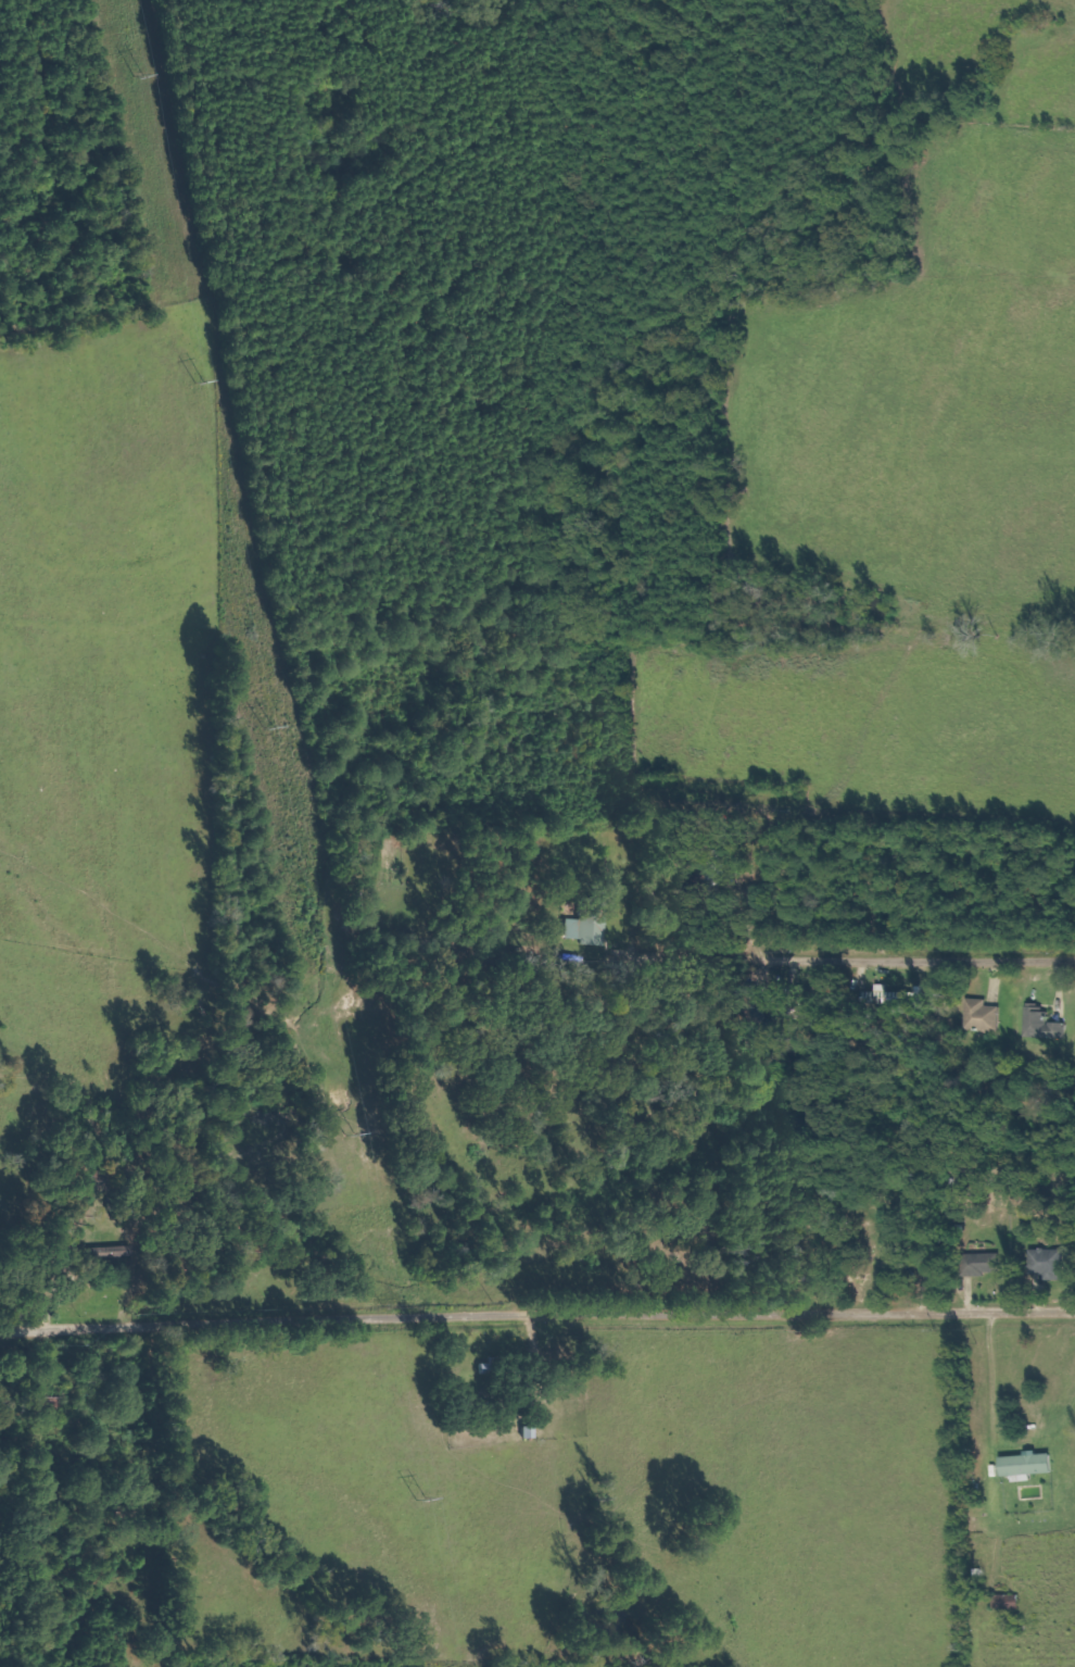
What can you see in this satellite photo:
power tower: (153, 74)
power tower: (203, 384)
power tower: (269, 727)
building: (591, 923)
road: (934, 962)
building: (985, 1016)
building: (1047, 1025)
power tower: (355, 1132)
building: (903, 1231)
building: (988, 1264)
building: (1052, 1264)
road: (536, 1312)
building: (1030, 1466)
power tower: (425, 1499)

